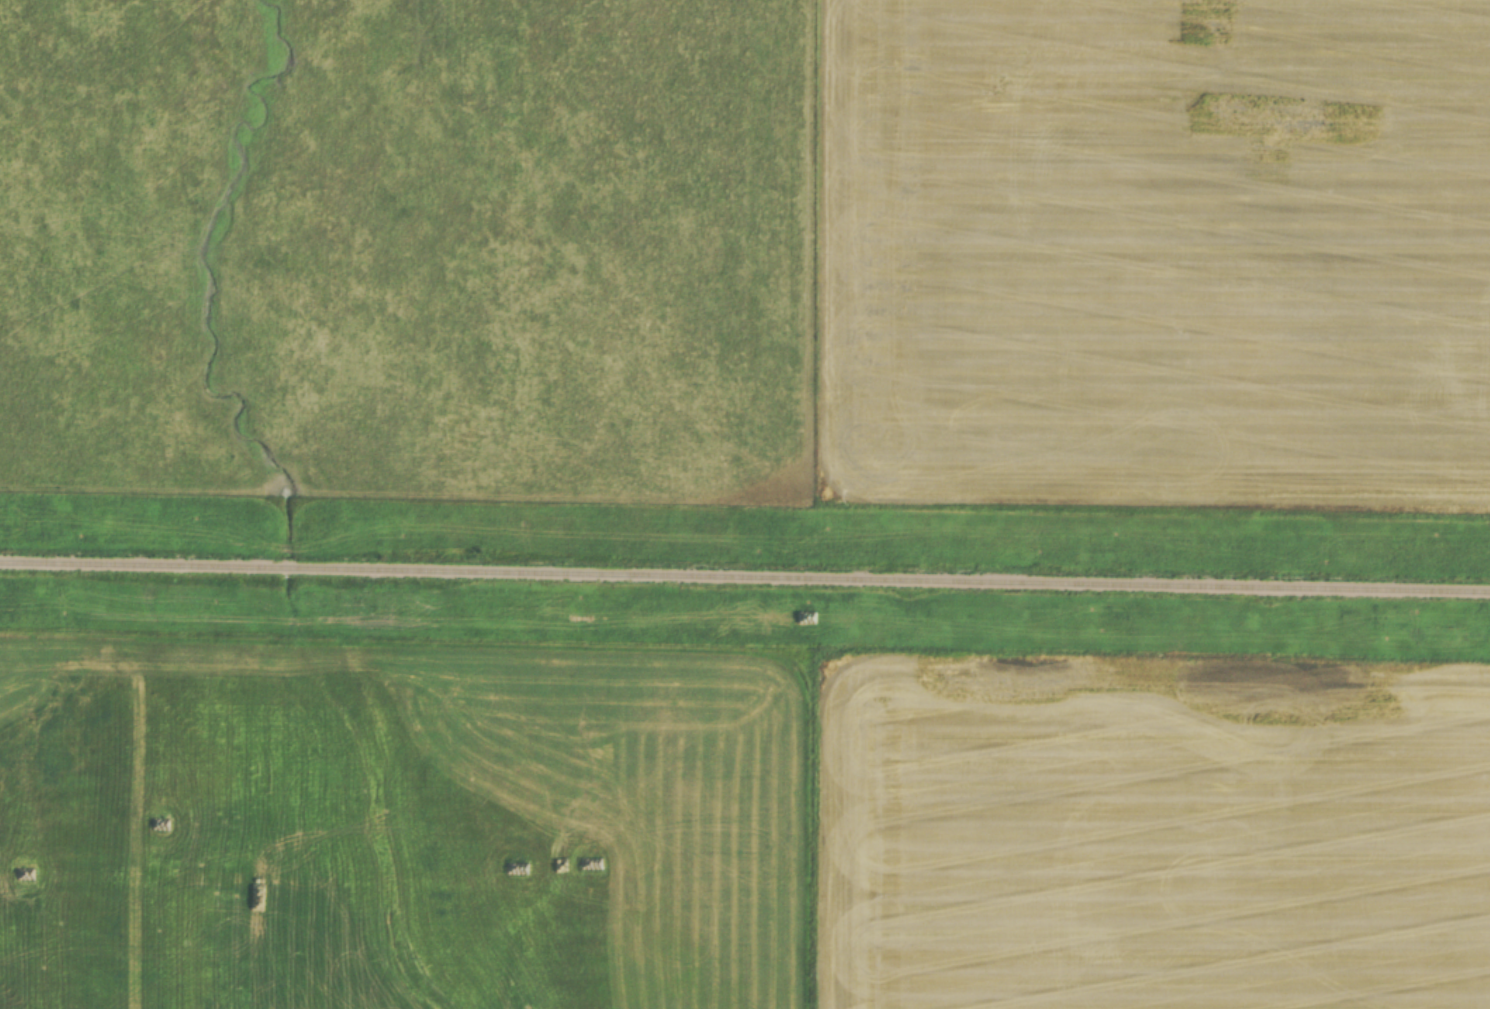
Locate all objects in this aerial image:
railway: (745, 578)

